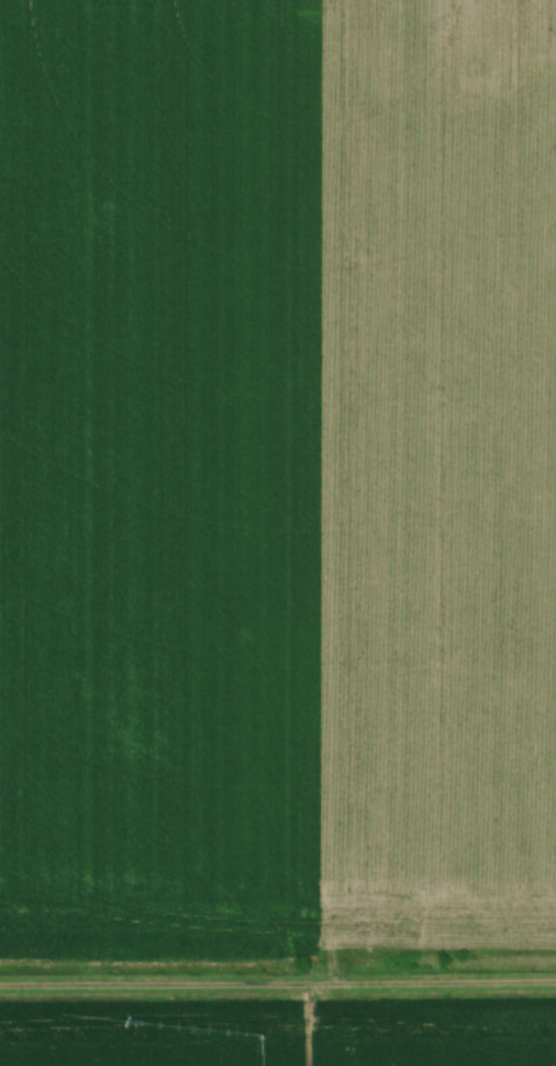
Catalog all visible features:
road: (278, 989)

